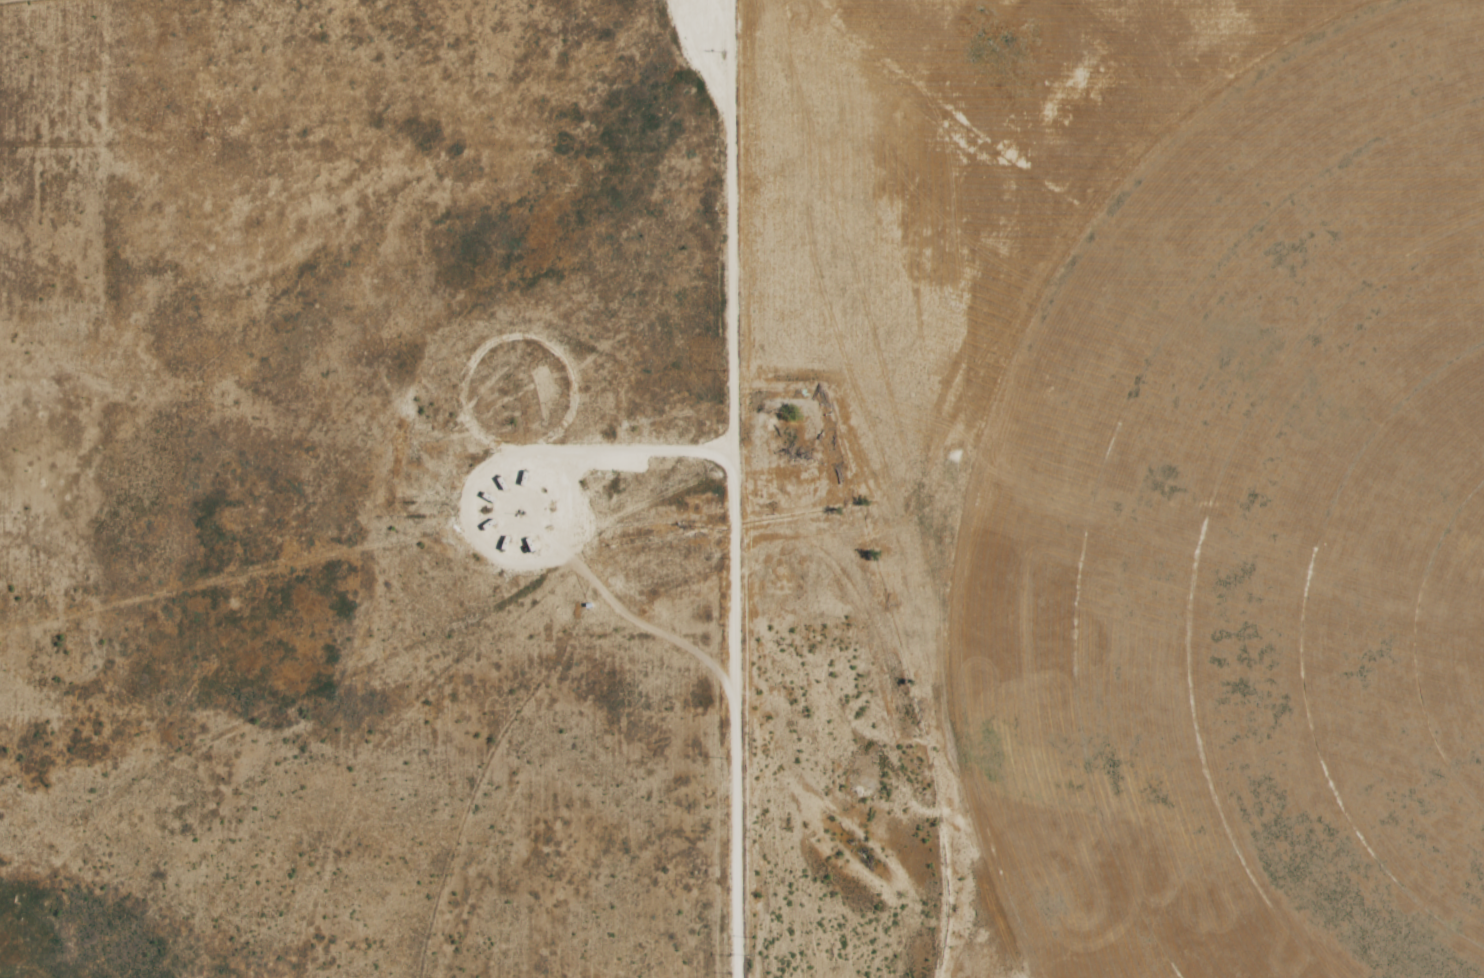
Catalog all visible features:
road: (737, 488)

